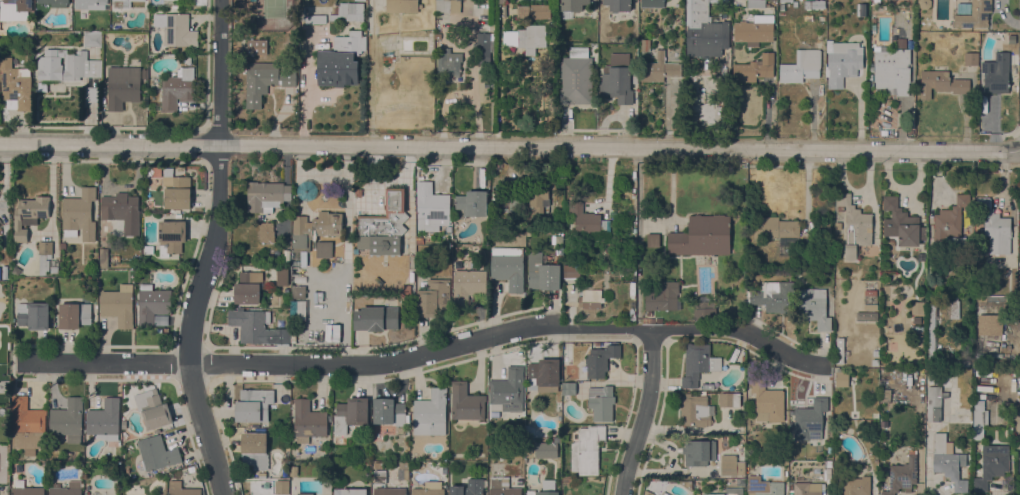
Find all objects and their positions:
building: (253, 0)
building: (359, 0)
building: (786, 1)
building: (55, 2)
building: (124, 2)
building: (90, 4)
building: (652, 4)
building: (756, 4)
building: (791, 4)
building: (618, 5)
building: (814, 5)
building: (402, 6)
building: (446, 6)
building: (572, 7)
building: (782, 7)
building: (14, 10)
building: (336, 10)
building: (861, 10)
building: (348, 12)
building: (540, 12)
building: (974, 15)
building: (317, 19)
building: (873, 25)
building: (704, 30)
building: (754, 30)
building: (178, 31)
building: (144, 37)
building: (526, 38)
building: (92, 39)
building: (257, 47)
building: (482, 48)
building: (971, 59)
building: (341, 61)
building: (448, 62)
building: (842, 62)
building: (66, 66)
building: (801, 67)
building: (659, 69)
building: (754, 69)
building: (893, 69)
building: (871, 73)
building: (997, 74)
road: (1018, 76)
building: (576, 77)
building: (635, 78)
building: (617, 79)
building: (264, 81)
building: (941, 83)
building: (15, 85)
building: (122, 86)
building: (178, 89)
building: (883, 132)
road: (510, 148)
building: (176, 192)
building: (358, 192)
building: (266, 196)
building: (538, 198)
building: (516, 200)
building: (472, 203)
building: (431, 205)
building: (122, 211)
building: (28, 215)
building: (79, 215)
building: (589, 223)
building: (903, 224)
building: (383, 226)
building: (837, 226)
building: (854, 226)
building: (950, 226)
building: (448, 228)
building: (774, 228)
building: (995, 228)
building: (314, 229)
building: (823, 229)
building: (266, 233)
building: (702, 236)
building: (171, 237)
building: (653, 240)
building: (419, 241)
building: (62, 246)
building: (148, 250)
road: (209, 250)
building: (324, 250)
building: (44, 256)
building: (102, 257)
building: (295, 263)
building: (53, 266)
building: (15, 271)
building: (508, 271)
building: (571, 271)
building: (4, 272)
building: (542, 273)
building: (282, 279)
building: (467, 286)
building: (249, 287)
building: (406, 291)
building: (298, 292)
building: (870, 292)
building: (318, 296)
building: (773, 296)
building: (662, 297)
building: (433, 298)
building: (990, 298)
building: (591, 299)
building: (152, 304)
building: (118, 305)
building: (813, 307)
building: (870, 308)
building: (917, 308)
building: (704, 309)
building: (953, 309)
building: (298, 310)
building: (33, 315)
building: (74, 315)
building: (94, 316)
building: (866, 316)
building: (376, 318)
building: (160, 319)
building: (648, 320)
building: (659, 320)
building: (990, 325)
building: (256, 327)
road: (741, 331)
building: (931, 333)
building: (918, 334)
building: (839, 350)
building: (876, 353)
building: (600, 360)
building: (964, 360)
building: (874, 361)
road: (338, 363)
building: (698, 363)
building: (928, 365)
building: (544, 375)
building: (841, 379)
building: (707, 386)
building: (569, 389)
building: (508, 390)
building: (885, 395)
building: (729, 400)
building: (601, 402)
building: (767, 402)
building: (466, 403)
building: (933, 404)
building: (253, 405)
building: (153, 409)
building: (694, 410)
building: (389, 412)
building: (430, 413)
road: (644, 413)
building: (350, 414)
building: (494, 414)
building: (875, 416)
building: (104, 418)
building: (979, 419)
building: (68, 420)
building: (810, 420)
building: (307, 421)
building: (27, 426)
building: (829, 449)
building: (254, 450)
building: (546, 450)
building: (587, 450)
building: (698, 452)
building: (157, 453)
building: (948, 461)
building: (828, 463)
building: (379, 465)
building: (403, 465)
building: (731, 465)
building: (991, 465)
building: (828, 471)
building: (262, 475)
building: (902, 476)
building: (740, 482)
building: (827, 482)
building: (763, 486)
building: (856, 486)
building: (281, 487)
building: (502, 487)
building: (468, 488)
building: (807, 488)
building: (67, 489)
building: (180, 489)
building: (27, 491)
building: (350, 491)
building: (390, 491)
building: (427, 491)
building: (541, 492)
building: (729, 492)
building: (302, 493)
building: (649, 494)
building: (665, 494)
building: (828, 494)

